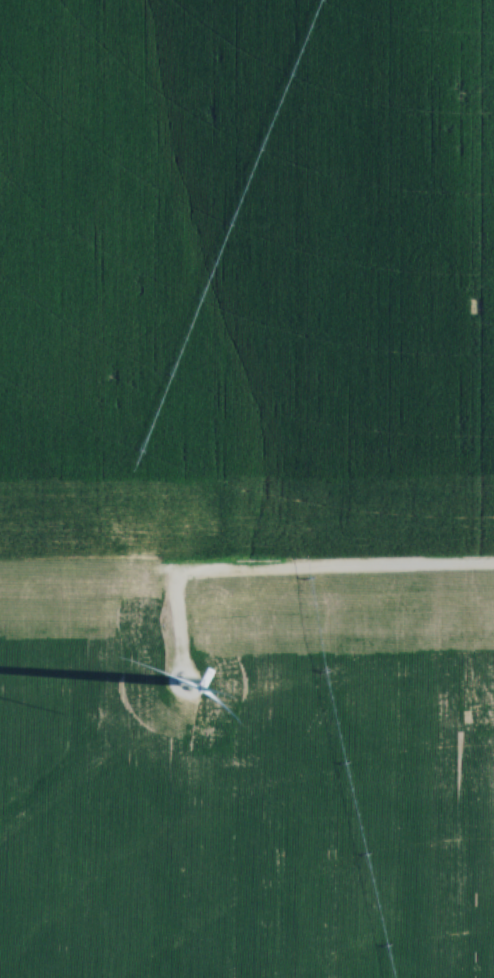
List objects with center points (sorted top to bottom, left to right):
wind turbine: (180, 679)

